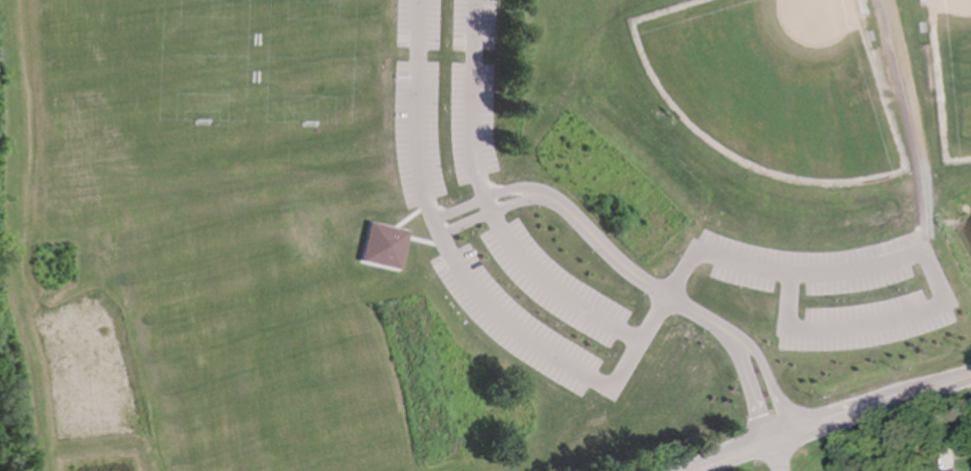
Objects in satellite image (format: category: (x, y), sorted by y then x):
road: (436, 227)
park: (474, 227)
building: (382, 246)
road: (913, 257)
road: (631, 273)
road: (654, 321)
road: (742, 347)
road: (608, 386)
road: (836, 425)
road: (781, 457)

